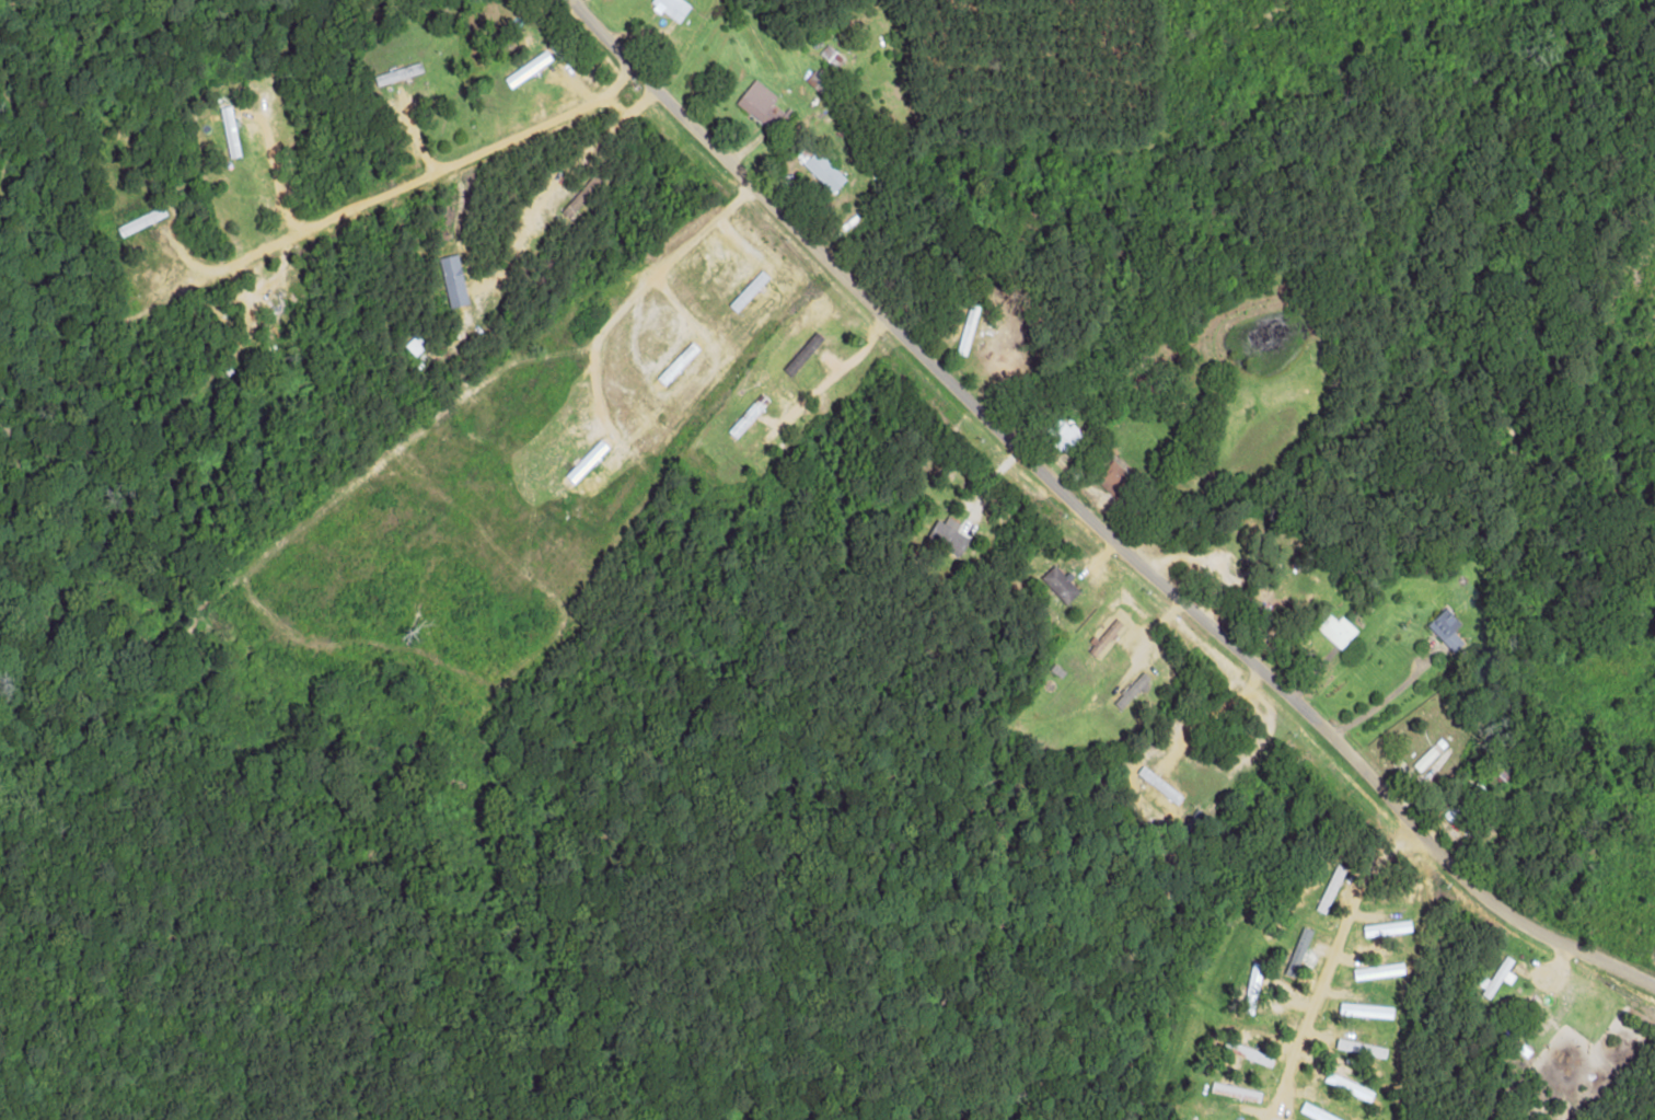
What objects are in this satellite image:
building: (672, 7)
building: (831, 55)
road: (50, 58)
building: (528, 69)
building: (398, 73)
building: (817, 81)
building: (760, 104)
building: (229, 131)
building: (821, 170)
building: (452, 281)
building: (974, 332)
building: (802, 354)
building: (752, 412)
building: (1063, 435)
building: (1112, 476)
building: (949, 536)
road: (1074, 541)
building: (1060, 584)
building: (1446, 627)
building: (1336, 628)
building: (1104, 638)
building: (1132, 690)
building: (1330, 888)
building: (1387, 927)
building: (1378, 971)
building: (1497, 977)
building: (1252, 988)
building: (1366, 1009)
building: (1361, 1048)
building: (1349, 1086)
building: (1236, 1092)

